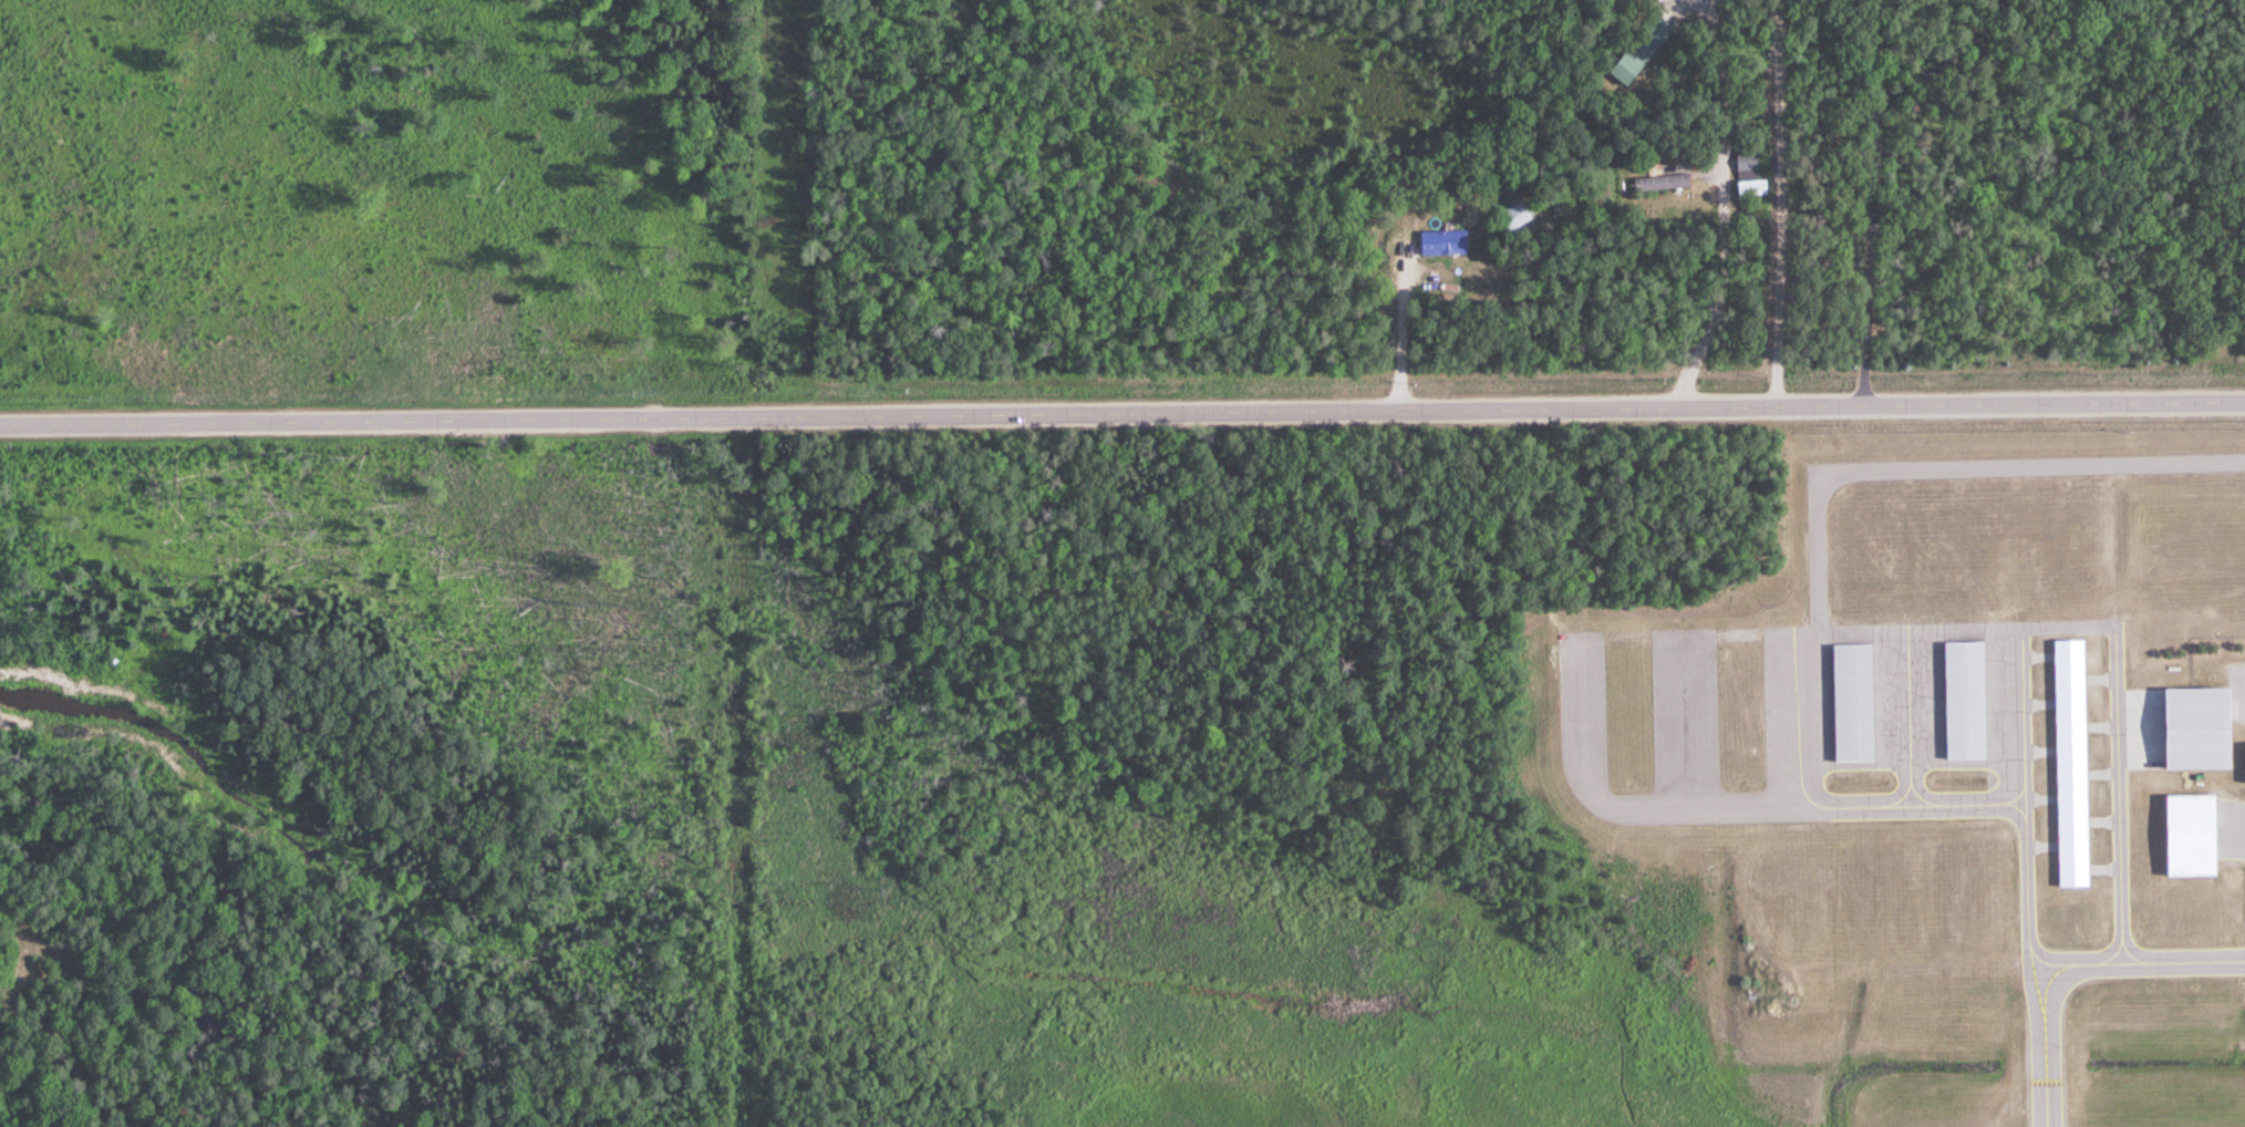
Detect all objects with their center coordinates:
building: (1639, 49)
building: (1746, 158)
building: (1661, 182)
building: (1751, 186)
road: (1698, 201)
building: (1510, 208)
building: (1441, 239)
road: (1121, 410)
road: (1947, 466)
road: (2239, 673)
building: (1963, 697)
building: (1852, 700)
building: (2176, 726)
building: (2244, 759)
building: (2070, 761)
airport: (1931, 783)
building: (2189, 833)
airport taxiway: (2071, 963)
road: (51, 1025)

